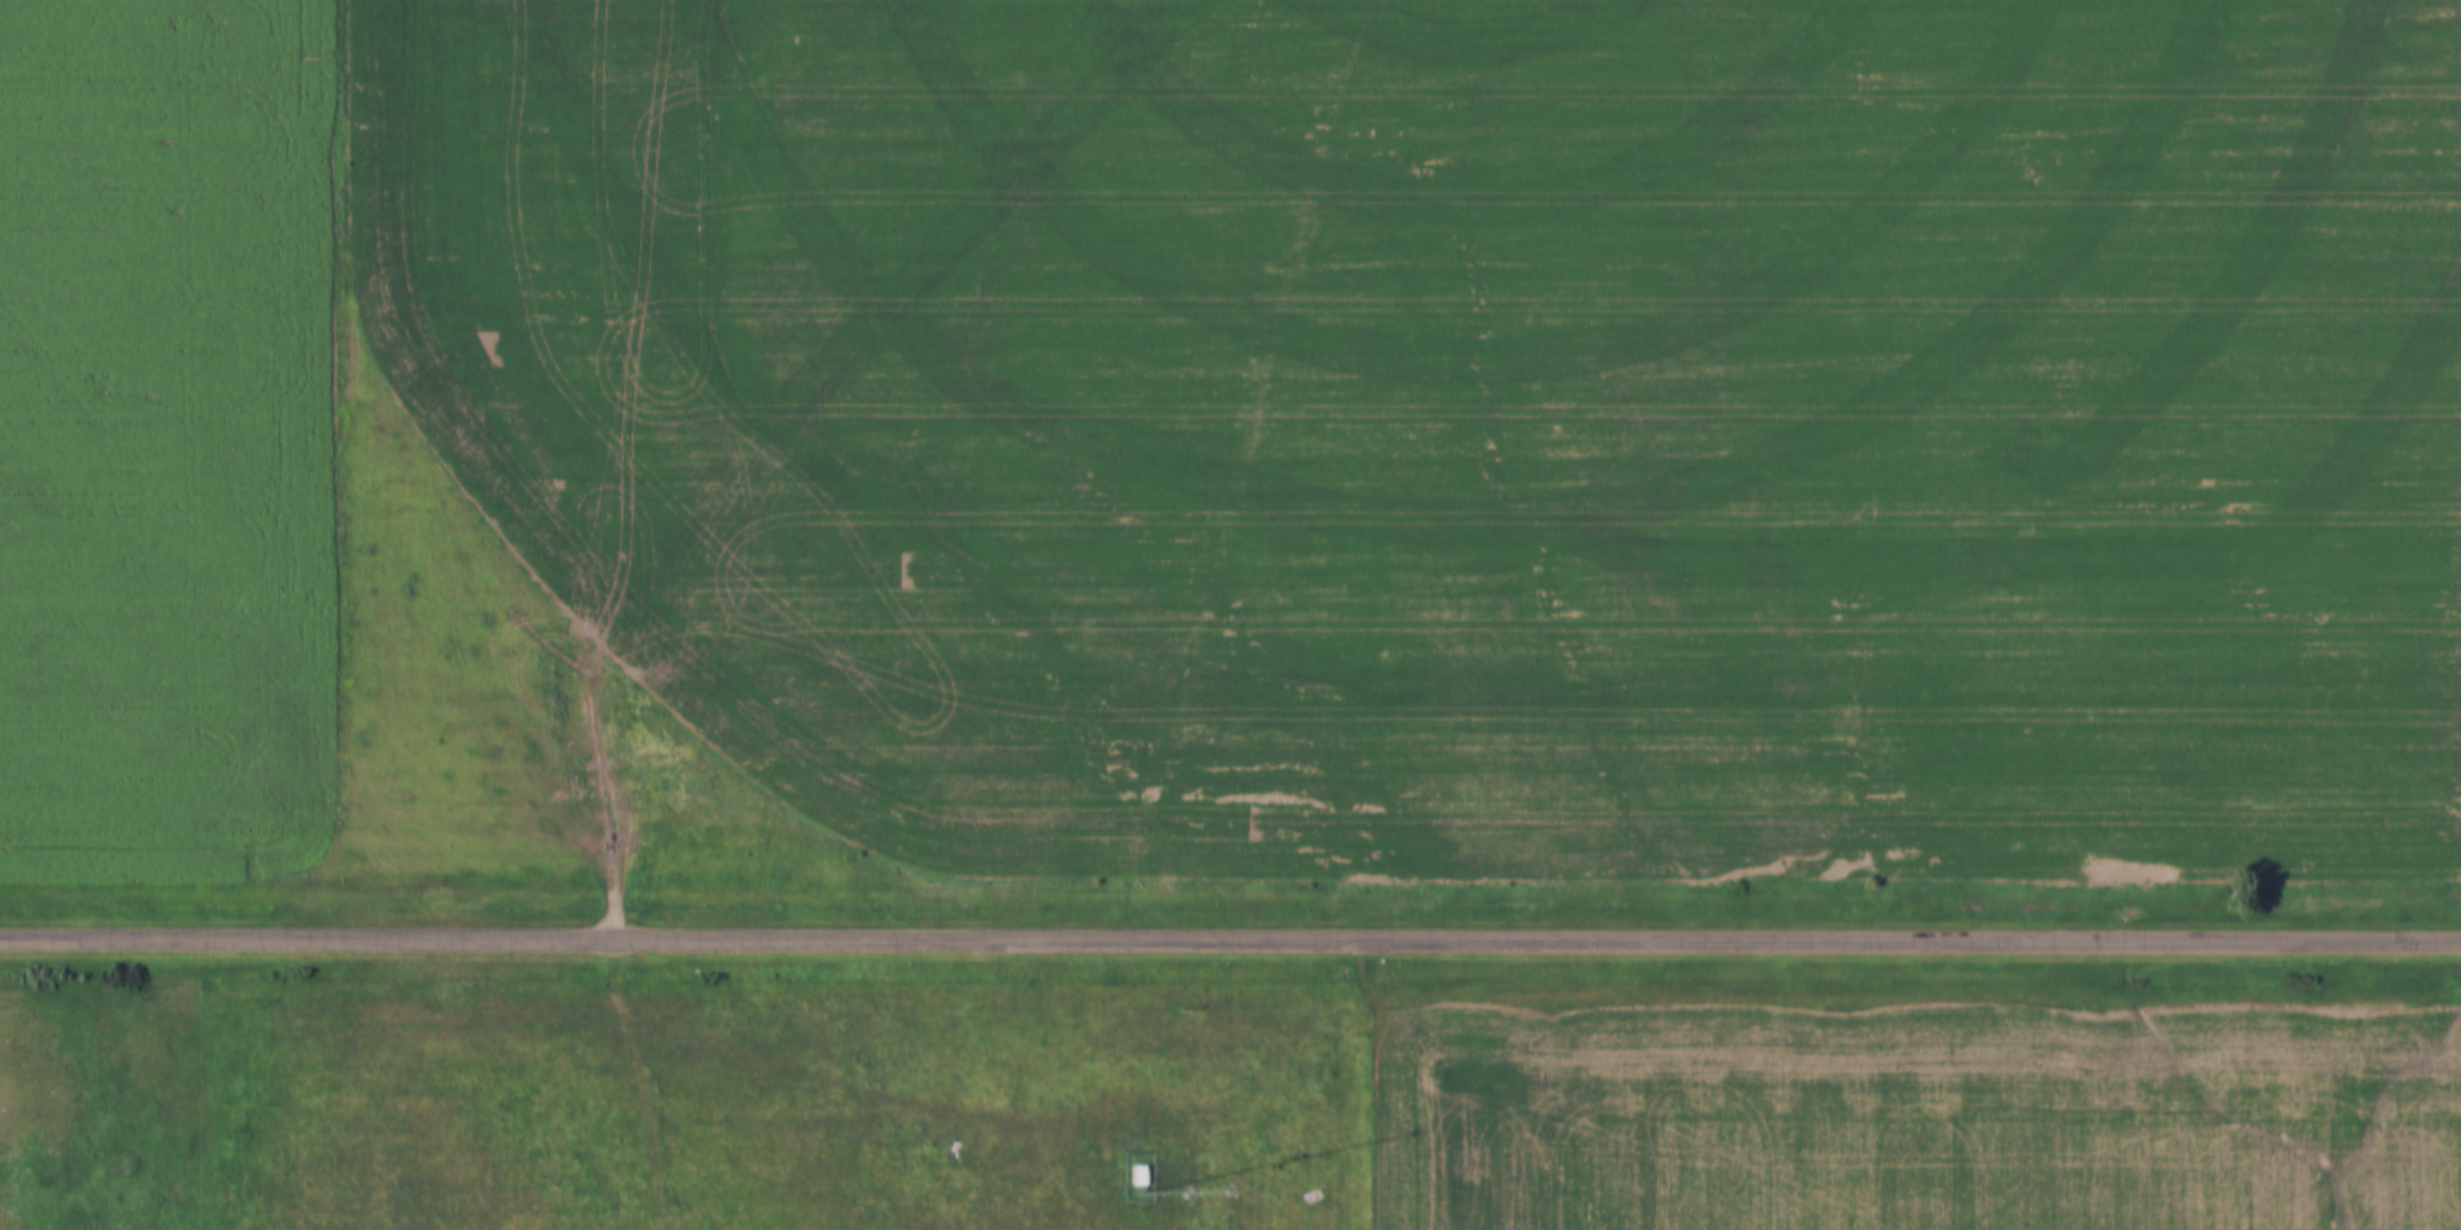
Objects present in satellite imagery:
crop: (1476, 417)
road: (1229, 942)
building: (1132, 1175)

